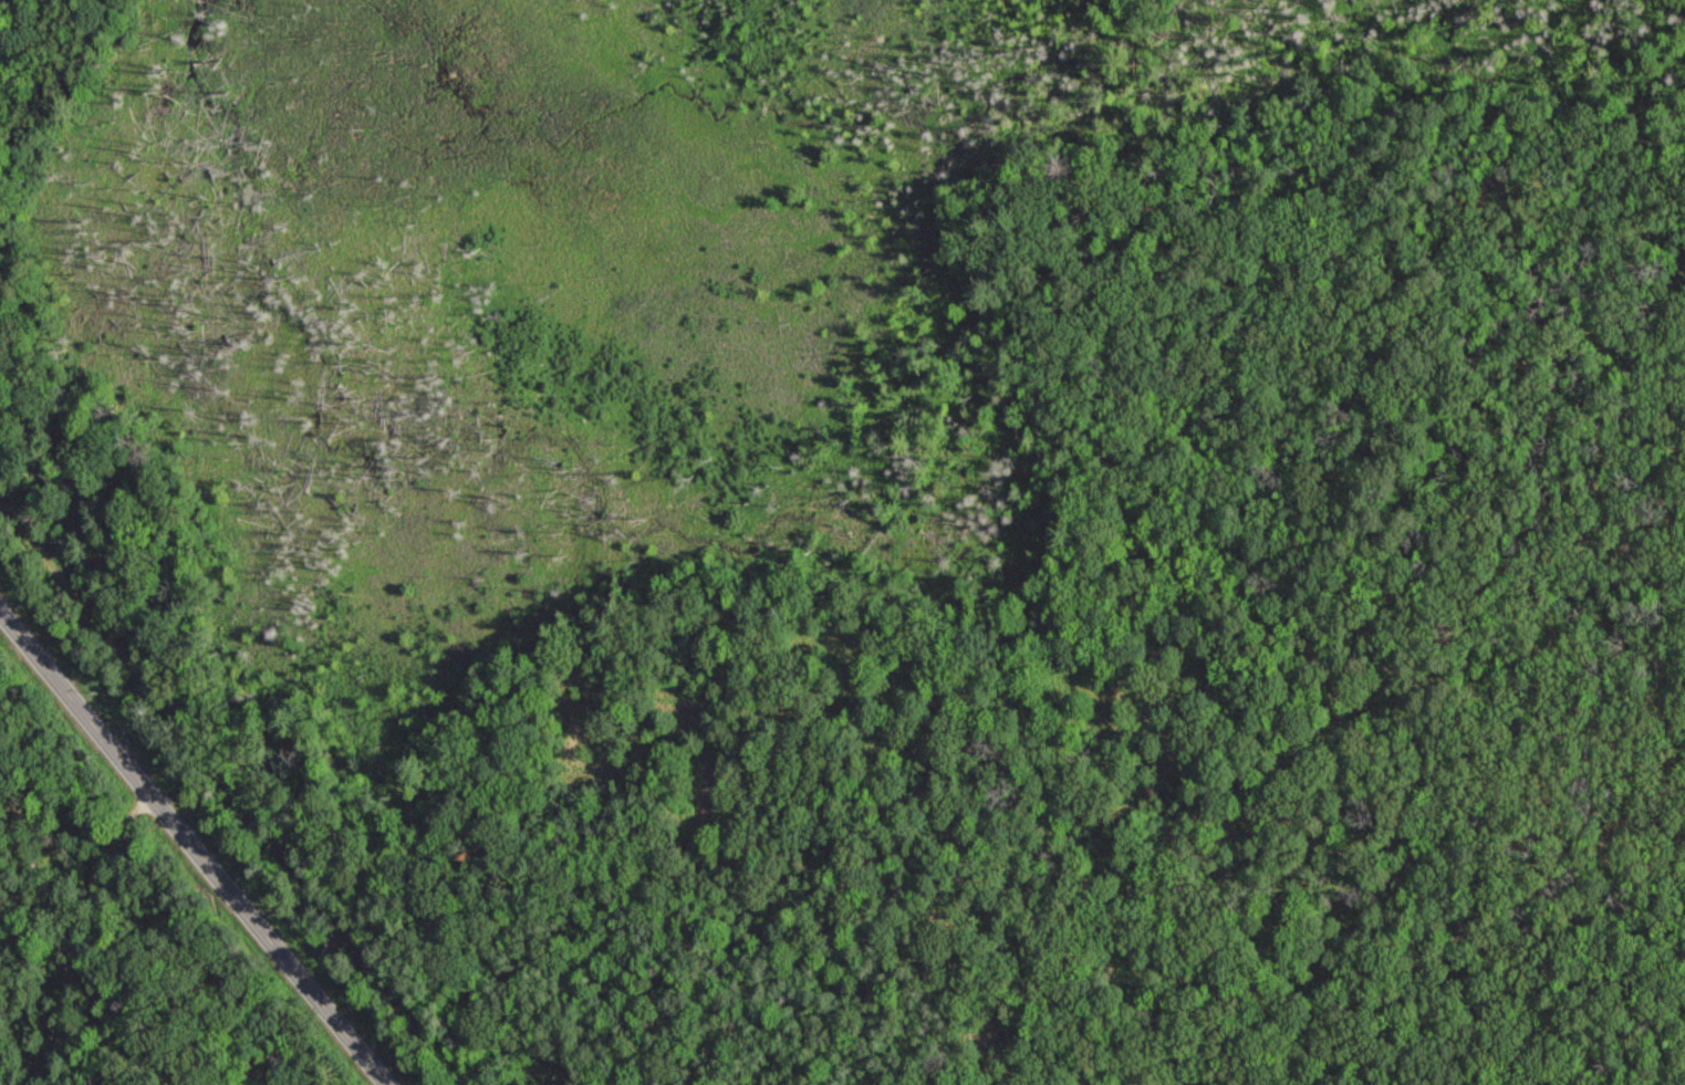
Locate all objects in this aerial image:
road: (194, 847)

